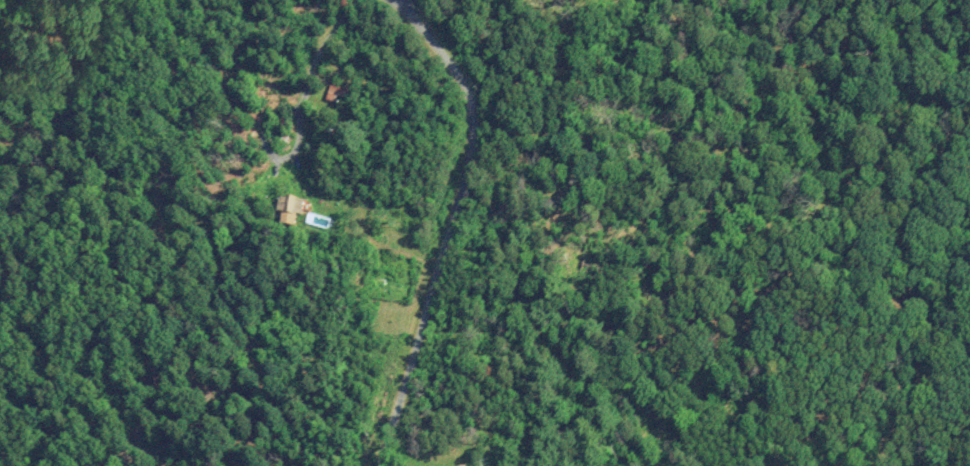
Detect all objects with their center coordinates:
building: (291, 207)
road: (765, 309)
road: (916, 377)

